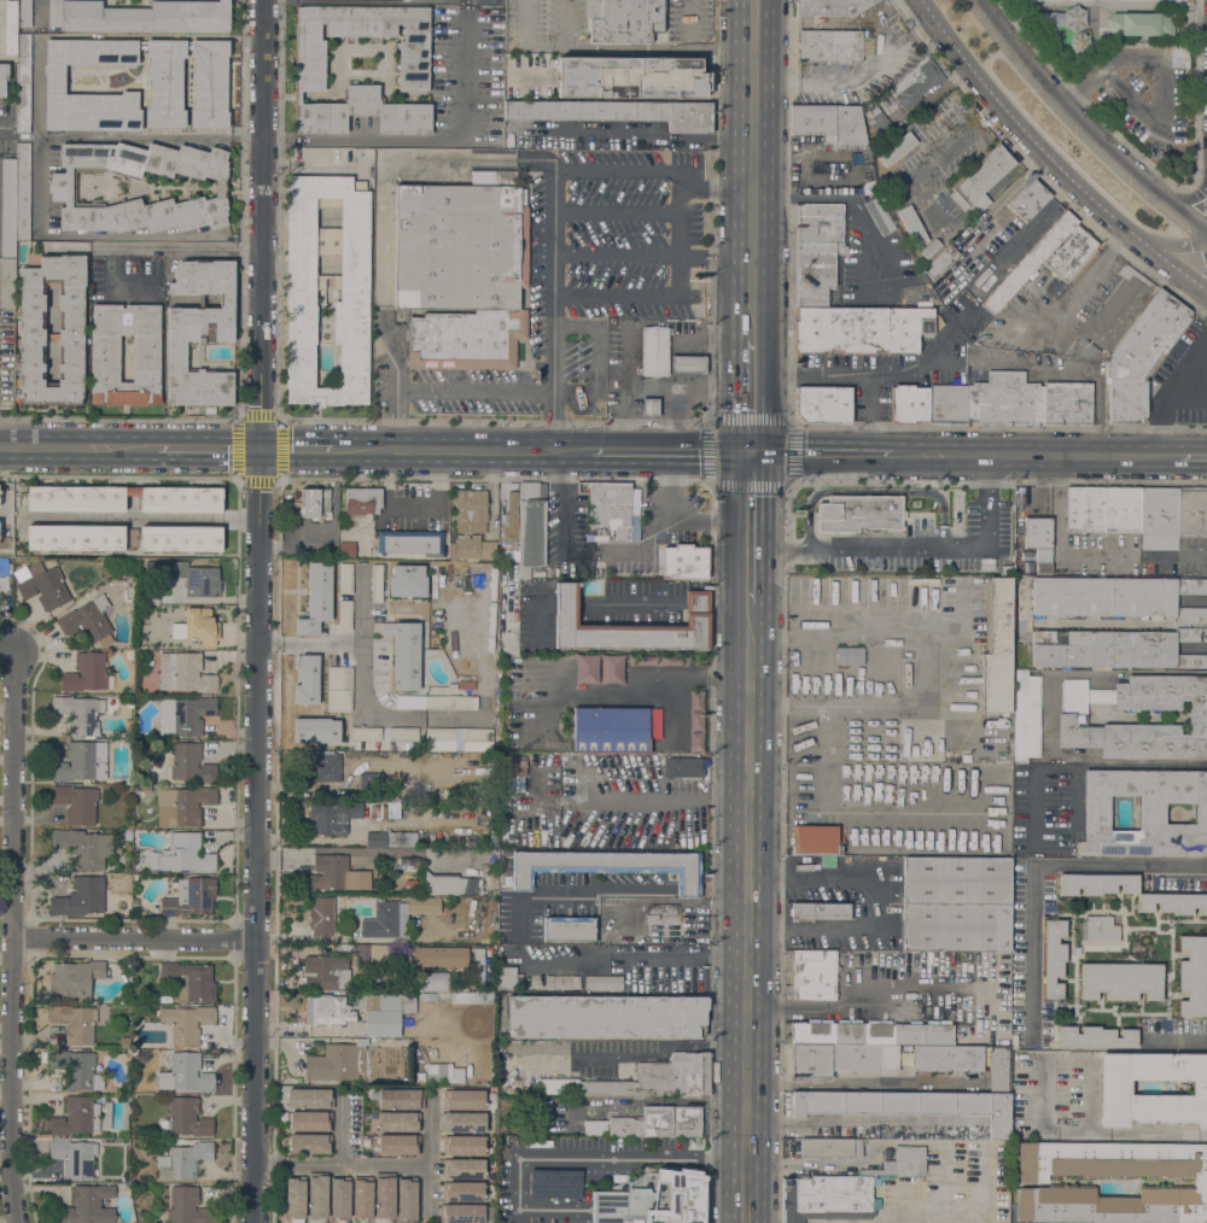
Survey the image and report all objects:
building: (829, 6)
building: (24, 13)
building: (140, 16)
building: (624, 19)
building: (1139, 24)
building: (11, 27)
road: (520, 42)
building: (829, 45)
road: (601, 46)
road: (688, 49)
building: (309, 63)
park: (1127, 68)
building: (2, 77)
building: (631, 77)
road: (1161, 81)
building: (23, 83)
building: (211, 83)
building: (915, 83)
road: (1077, 93)
road: (1069, 98)
building: (618, 113)
road: (1088, 121)
building: (880, 124)
road: (35, 130)
building: (835, 131)
road: (148, 136)
road: (425, 140)
building: (896, 148)
road: (1051, 157)
road: (739, 169)
building: (980, 180)
building: (63, 188)
building: (22, 191)
road: (554, 194)
road: (1186, 198)
building: (1027, 199)
building: (7, 207)
road: (279, 209)
building: (904, 209)
road: (618, 210)
building: (879, 216)
road: (383, 217)
building: (818, 223)
road: (766, 226)
building: (996, 240)
building: (460, 244)
road: (186, 246)
road: (1173, 246)
road: (110, 248)
building: (931, 248)
building: (1072, 253)
road: (618, 254)
road: (692, 256)
building: (940, 262)
building: (1028, 262)
road: (109, 267)
building: (814, 273)
road: (1083, 283)
building: (7, 285)
building: (350, 293)
road: (637, 295)
building: (31, 310)
building: (1113, 315)
building: (862, 329)
building: (199, 333)
building: (466, 339)
road: (688, 340)
building: (654, 351)
building: (1141, 356)
road: (626, 357)
building: (105, 358)
building: (687, 364)
gas station: (687, 364)
road: (752, 370)
road: (880, 373)
road: (1044, 374)
road: (444, 388)
road: (649, 388)
road: (1173, 391)
road: (736, 394)
building: (1026, 400)
building: (909, 403)
building: (946, 403)
building: (823, 404)
building: (649, 406)
gas station: (649, 406)
traffic signals: (736, 414)
road: (870, 414)
road: (258, 417)
road: (119, 419)
road: (492, 421)
road: (789, 421)
road: (78, 446)
road: (208, 447)
road: (238, 447)
traffic signals: (258, 447)
road: (280, 449)
road: (295, 449)
road: (462, 449)
road: (664, 451)
traffic signals: (736, 452)
road: (751, 452)
traffic signals: (765, 452)
road: (829, 452)
road: (1037, 455)
road: (1194, 457)
road: (118, 478)
road: (258, 480)
road: (874, 488)
traffic signals: (765, 492)
building: (123, 498)
building: (362, 501)
building: (314, 503)
road: (561, 504)
building: (607, 507)
building: (1102, 509)
building: (471, 510)
building: (1159, 510)
building: (634, 511)
building: (858, 513)
building: (1193, 514)
road: (686, 517)
building: (509, 523)
building: (530, 528)
road: (764, 528)
building: (489, 536)
building: (80, 537)
building: (180, 538)
road: (1057, 540)
building: (409, 542)
parking lot: (934, 542)
building: (1039, 542)
building: (1165, 542)
road: (647, 544)
road: (786, 546)
building: (474, 548)
road: (944, 548)
building: (345, 550)
road: (1174, 556)
building: (684, 562)
building: (5, 567)
building: (1007, 569)
building: (1020, 578)
building: (197, 579)
building: (407, 580)
building: (375, 581)
building: (492, 584)
building: (43, 586)
building: (345, 596)
building: (1, 597)
building: (1116, 597)
building: (316, 598)
road: (722, 599)
road: (750, 599)
road: (696, 601)
road: (647, 602)
road: (360, 609)
road: (258, 610)
building: (491, 619)
building: (88, 621)
road: (962, 625)
building: (200, 626)
building: (630, 626)
building: (490, 644)
road: (360, 645)
building: (997, 648)
building: (1115, 648)
building: (404, 654)
building: (849, 655)
building: (490, 657)
building: (643, 659)
building: (674, 659)
road: (931, 663)
building: (587, 668)
building: (611, 668)
building: (183, 672)
building: (87, 673)
building: (307, 680)
building: (339, 689)
building: (696, 701)
building: (436, 702)
building: (80, 714)
building: (185, 715)
building: (1026, 716)
building: (1072, 718)
building: (695, 721)
building: (316, 730)
building: (614, 730)
building: (366, 733)
building: (403, 733)
building: (439, 735)
building: (478, 735)
building: (695, 741)
building: (966, 757)
building: (82, 761)
building: (189, 763)
road: (1158, 763)
building: (513, 766)
building: (328, 767)
building: (683, 767)
building: (515, 784)
building: (366, 785)
road: (855, 789)
road: (640, 801)
road: (747, 801)
building: (76, 802)
building: (186, 802)
building: (379, 808)
building: (1144, 813)
building: (333, 815)
road: (733, 837)
building: (391, 839)
building: (815, 839)
building: (83, 847)
building: (182, 854)
building: (610, 866)
road: (747, 866)
road: (1043, 866)
building: (328, 872)
building: (1097, 883)
building: (450, 884)
building: (409, 885)
road: (602, 894)
building: (80, 897)
building: (189, 897)
road: (876, 900)
building: (1173, 902)
building: (134, 903)
building: (956, 903)
building: (422, 905)
building: (820, 911)
building: (325, 913)
road: (763, 913)
building: (661, 914)
building: (385, 920)
road: (747, 925)
building: (1102, 928)
building: (568, 929)
road: (12, 932)
building: (606, 938)
road: (136, 942)
building: (372, 954)
road: (628, 955)
building: (439, 956)
building: (1054, 956)
building: (482, 967)
building: (328, 971)
building: (812, 975)
building: (1193, 976)
building: (506, 977)
building: (75, 979)
building: (191, 981)
building: (1121, 981)
building: (562, 983)
building: (602, 983)
building: (432, 984)
building: (392, 987)
road: (875, 987)
building: (457, 997)
building: (408, 1003)
building: (327, 1010)
building: (381, 1013)
building: (606, 1016)
building: (74, 1023)
building: (187, 1023)
building: (1095, 1037)
building: (124, 1042)
building: (876, 1047)
building: (337, 1063)
building: (76, 1069)
building: (444, 1072)
building: (185, 1073)
building: (480, 1076)
building: (420, 1077)
building: (643, 1079)
road: (867, 1083)
building: (1114, 1087)
building: (369, 1092)
building: (309, 1099)
building: (401, 1099)
building: (462, 1099)
building: (919, 1100)
building: (76, 1117)
building: (186, 1118)
building: (310, 1120)
building: (398, 1122)
building: (465, 1122)
building: (651, 1123)
road: (868, 1125)
road: (342, 1128)
building: (491, 1131)
road: (1094, 1133)
building: (310, 1143)
building: (398, 1145)
building: (462, 1145)
building: (830, 1147)
building: (887, 1152)
road: (431, 1154)
building: (72, 1158)
road: (597, 1158)
building: (182, 1160)
road: (859, 1163)
building: (902, 1163)
road: (343, 1166)
building: (462, 1169)
building: (1032, 1181)
building: (462, 1190)
building: (317, 1196)
building: (295, 1198)
building: (339, 1198)
building: (384, 1198)
building: (406, 1198)
building: (829, 1198)
building: (361, 1199)
building: (652, 1199)
building: (87, 1205)
building: (187, 1206)
road: (911, 1211)
road: (957, 1212)
building: (461, 1213)
road: (897, 1218)

